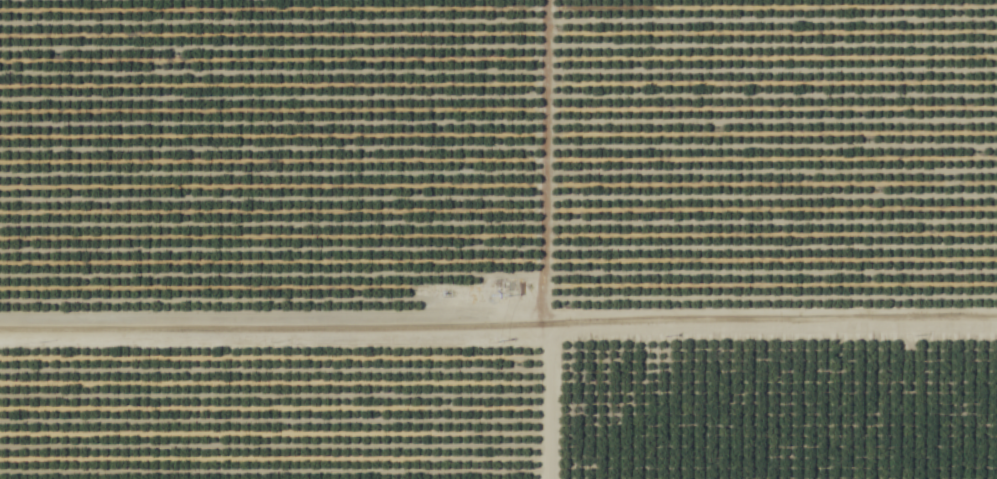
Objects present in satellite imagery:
road: (537, 239)
road: (498, 328)

